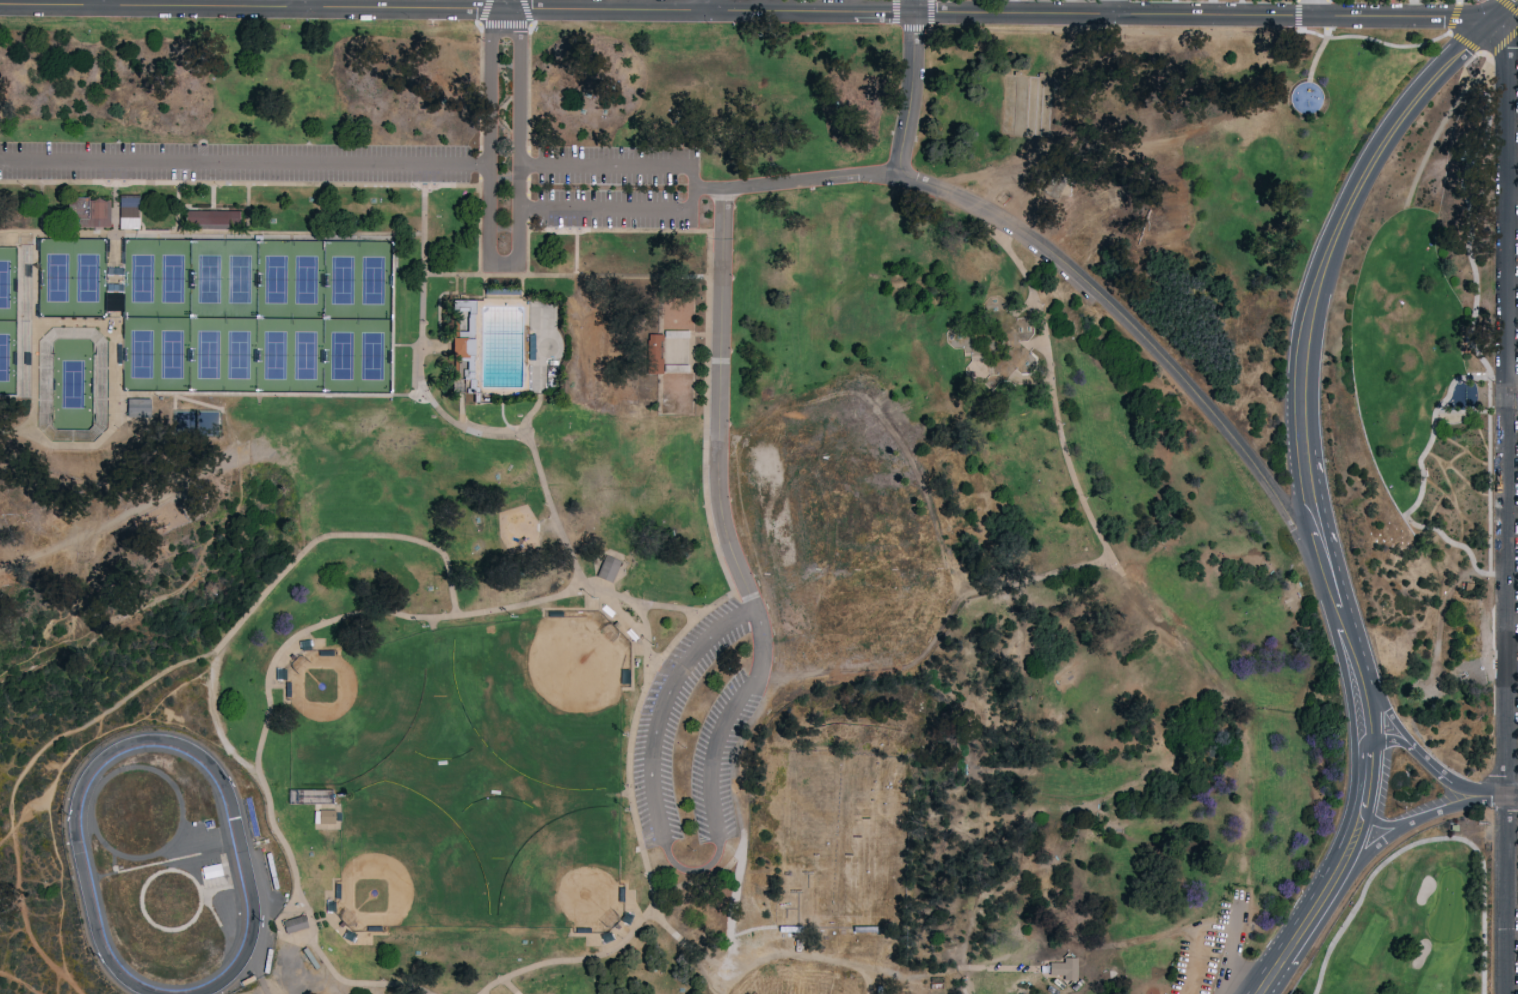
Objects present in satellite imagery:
road: (106, 2)
road: (305, 4)
road: (505, 4)
road: (709, 5)
road: (1510, 5)
road: (813, 6)
road: (913, 6)
road: (1211, 6)
road: (1015, 7)
road: (1115, 7)
road: (1312, 7)
road: (1413, 7)
road: (1501, 10)
road: (745, 11)
road: (1297, 13)
road: (1453, 16)
road: (504, 23)
road: (912, 26)
road: (492, 34)
road: (1457, 39)
road: (1388, 45)
road: (1322, 47)
road: (481, 86)
road: (528, 87)
road: (909, 94)
park: (1027, 106)
road: (1075, 148)
road: (481, 162)
parking lot: (240, 165)
road: (246, 165)
road: (528, 166)
road: (481, 179)
road: (796, 181)
road: (212, 185)
road: (528, 186)
road: (695, 188)
road: (212, 194)
road: (480, 201)
road: (176, 203)
building: (127, 205)
road: (528, 207)
road: (248, 209)
building: (85, 211)
building: (208, 218)
road: (528, 225)
road: (528, 229)
road: (78, 232)
road: (16, 234)
road: (270, 234)
road: (518, 252)
road: (576, 252)
road: (33, 272)
road: (566, 275)
park: (56, 277)
park: (87, 277)
park: (141, 277)
park: (171, 277)
park: (209, 277)
park: (239, 277)
park: (274, 278)
park: (305, 278)
park: (341, 280)
park: (371, 280)
road: (1323, 280)
park: (4, 283)
road: (463, 286)
road: (482, 296)
road: (393, 303)
road: (438, 308)
road: (707, 318)
building: (461, 347)
road: (580, 351)
park: (679, 352)
park: (208, 353)
building: (653, 353)
park: (140, 354)
park: (171, 354)
park: (238, 354)
park: (273, 354)
park: (304, 355)
park: (340, 355)
park: (370, 355)
road: (1479, 356)
park: (4, 357)
road: (114, 357)
road: (1500, 377)
park: (71, 383)
stadium: (72, 383)
road: (408, 394)
road: (1513, 395)
road: (16, 397)
road: (174, 401)
road: (197, 403)
road: (719, 403)
building: (135, 407)
road: (461, 409)
road: (530, 412)
road: (1474, 412)
road: (501, 415)
park: (1425, 420)
park: (194, 422)
road: (109, 429)
road: (241, 434)
road: (1492, 476)
road: (185, 492)
road: (1509, 506)
road: (35, 509)
park: (746, 510)
road: (549, 521)
road: (1108, 561)
building: (606, 568)
road: (723, 570)
road: (287, 573)
road: (1036, 578)
road: (131, 579)
road: (182, 587)
road: (646, 602)
road: (713, 604)
road: (466, 616)
road: (644, 617)
road: (636, 627)
road: (1350, 637)
road: (36, 651)
road: (882, 667)
road: (686, 669)
road: (1389, 715)
road: (1368, 716)
park: (1123, 718)
road: (98, 728)
road: (186, 728)
parking lot: (699, 729)
road: (1391, 741)
road: (1431, 765)
road: (27, 771)
road: (54, 786)
road: (1479, 790)
road: (1512, 796)
road: (632, 798)
road: (28, 807)
road: (738, 810)
building: (325, 815)
road: (1413, 823)
road: (1387, 824)
park: (822, 837)
track: (174, 866)
track: (166, 869)
building: (217, 873)
road: (702, 877)
road: (1335, 877)
building: (293, 922)
park: (1407, 924)
road: (1202, 944)
park: (1210, 946)
road: (799, 948)
parking lot: (1211, 948)
road: (1237, 951)
road: (598, 955)
road: (740, 957)
building: (1061, 967)
road: (721, 976)
road: (302, 979)
road: (16, 984)
parking lot: (314, 985)
road: (259, 991)
road: (307, 991)

